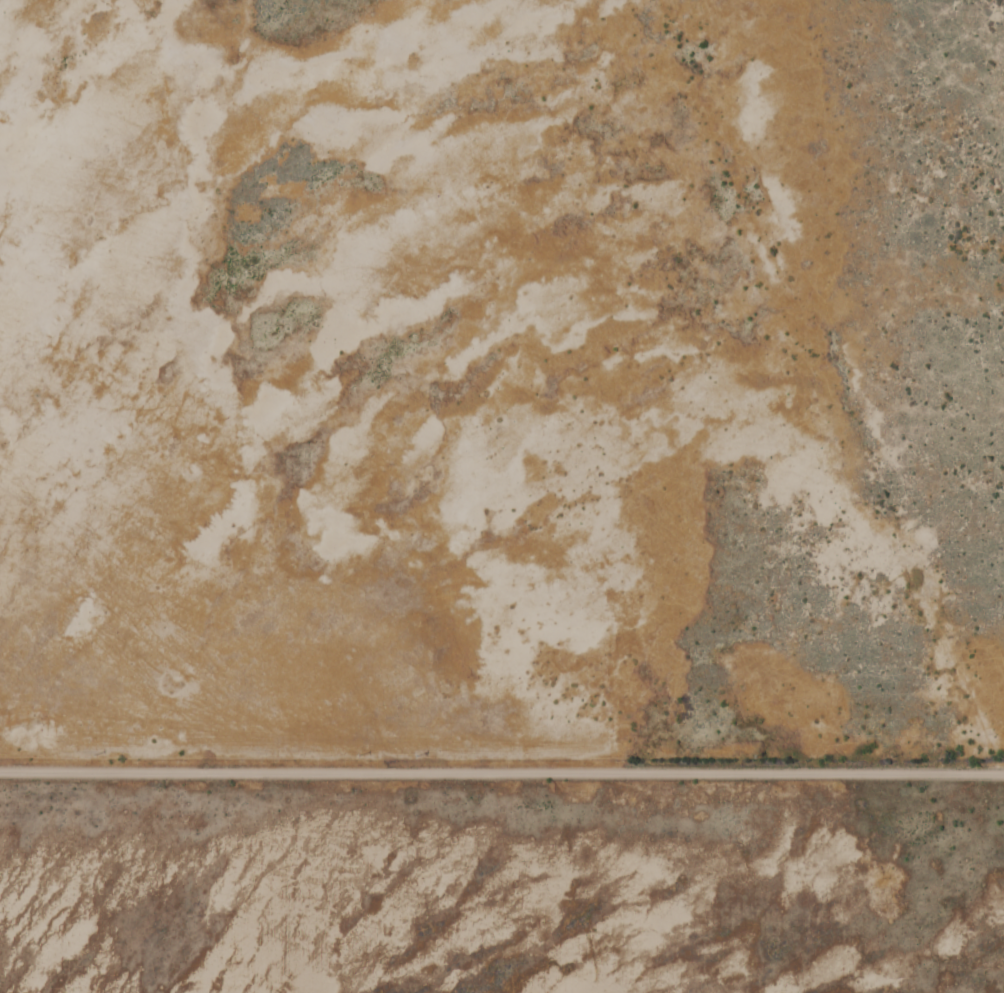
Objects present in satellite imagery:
road: (502, 766)

